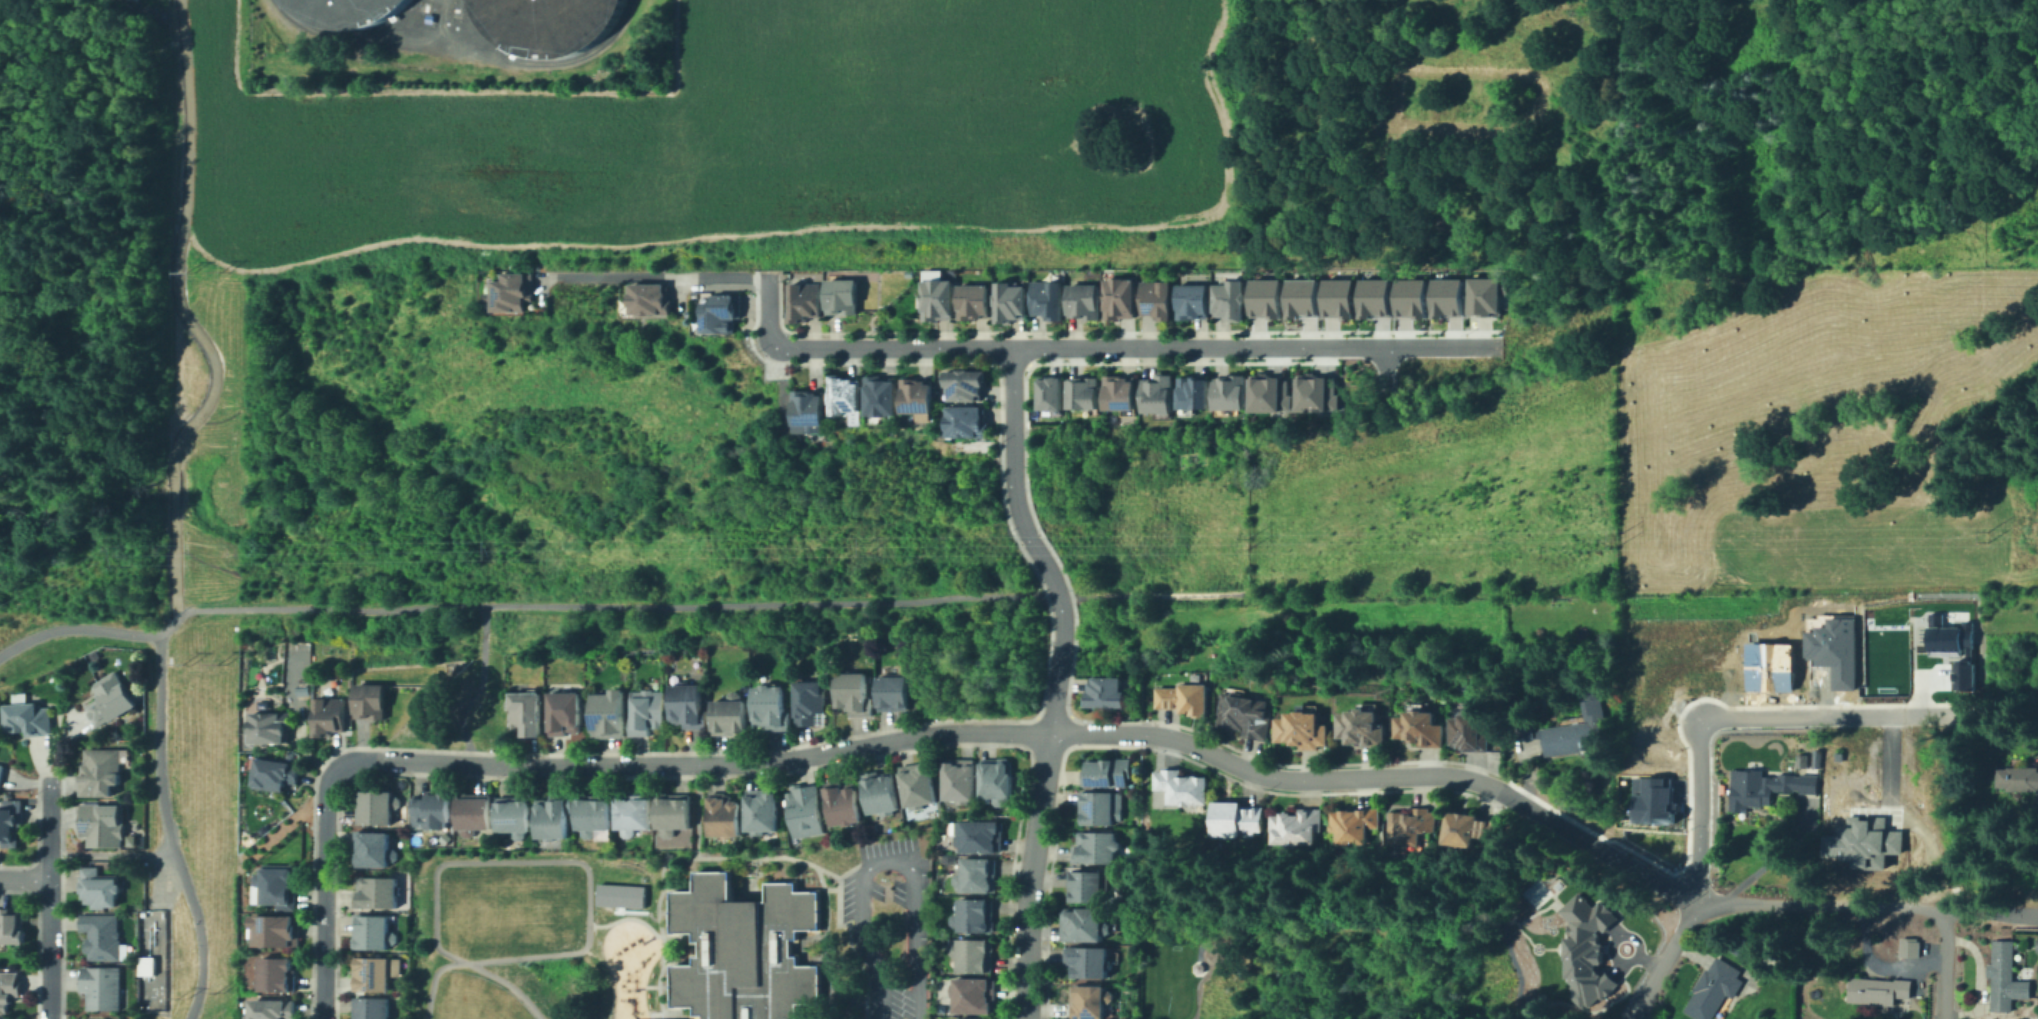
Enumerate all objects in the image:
building: (139, 0)
building: (346, 11)
storage tank: (346, 11)
building: (162, 15)
building: (429, 17)
road: (435, 23)
building: (542, 23)
storage tank: (542, 23)
road: (162, 43)
road: (460, 53)
crop: (746, 134)
road: (113, 243)
building: (909, 274)
road: (656, 276)
building: (513, 291)
building: (841, 296)
building: (1049, 296)
building: (1485, 296)
building: (653, 297)
building: (695, 297)
building: (1161, 297)
building: (1341, 297)
building: (1120, 298)
building: (1267, 298)
building: (1377, 298)
building: (1414, 298)
building: (1449, 298)
building: (937, 299)
building: (1303, 299)
building: (1230, 300)
building: (973, 301)
building: (1193, 301)
building: (804, 302)
building: (1010, 302)
building: (1083, 302)
road: (768, 310)
building: (724, 311)
road: (184, 318)
road: (1421, 349)
road: (1058, 350)
road: (1386, 367)
building: (965, 384)
building: (1084, 391)
building: (1193, 392)
building: (1267, 392)
building: (1313, 392)
building: (1120, 393)
building: (846, 394)
building: (1050, 394)
building: (1158, 394)
building: (1228, 394)
building: (879, 396)
building: (916, 396)
building: (811, 407)
building: (966, 421)
road: (127, 428)
park: (575, 467)
park: (1455, 469)
park: (1142, 524)
road: (1157, 591)
road: (1057, 595)
road: (606, 603)
road: (24, 616)
road: (76, 626)
road: (167, 626)
park: (83, 636)
building: (1951, 647)
building: (1833, 648)
building: (93, 654)
building: (1768, 664)
road: (1056, 680)
road: (476, 685)
building: (1587, 687)
building: (302, 691)
building: (896, 692)
building: (1106, 692)
road: (161, 694)
building: (857, 694)
building: (113, 698)
building: (1187, 699)
building: (811, 700)
building: (371, 701)
building: (690, 704)
building: (772, 708)
building: (1591, 708)
building: (649, 712)
building: (566, 713)
building: (1245, 713)
building: (528, 714)
building: (612, 714)
building: (732, 714)
road: (1831, 714)
building: (329, 716)
building: (30, 718)
building: (268, 726)
building: (1361, 726)
building: (1421, 728)
building: (1303, 729)
building: (1469, 731)
road: (926, 733)
building: (1565, 738)
building: (1525, 739)
building: (289, 755)
building: (1836, 756)
building: (1815, 757)
building: (1800, 760)
building: (1109, 772)
building: (2, 773)
building: (103, 773)
building: (275, 774)
building: (996, 778)
building: (2017, 779)
building: (958, 780)
building: (918, 784)
building: (1183, 786)
building: (1766, 789)
building: (879, 793)
building: (1649, 799)
building: (841, 804)
building: (375, 807)
building: (1101, 809)
building: (430, 810)
road: (696, 810)
building: (805, 810)
building: (761, 811)
building: (470, 812)
building: (673, 812)
building: (591, 813)
building: (632, 813)
road: (1694, 813)
building: (512, 815)
building: (550, 816)
road: (1908, 816)
building: (723, 817)
building: (12, 821)
park: (192, 821)
building: (1239, 821)
building: (104, 824)
building: (1356, 826)
building: (1414, 826)
building: (870, 827)
building: (1298, 828)
building: (1468, 828)
building: (979, 836)
building: (1862, 839)
building: (618, 844)
building: (1098, 847)
building: (372, 850)
road: (112, 852)
road: (1603, 853)
road: (739, 856)
building: (948, 858)
road: (889, 860)
road: (559, 862)
road: (1770, 862)
road: (24, 876)
building: (977, 876)
road: (160, 880)
road: (751, 884)
building: (280, 886)
road: (189, 887)
road: (322, 887)
building: (1091, 887)
road: (822, 888)
building: (101, 889)
road: (666, 889)
building: (375, 893)
building: (618, 894)
road: (48, 897)
building: (747, 897)
park: (545, 902)
park: (473, 905)
road: (1869, 908)
road: (636, 911)
road: (663, 911)
building: (973, 915)
parking lot: (890, 924)
building: (1083, 926)
building: (14, 927)
building: (277, 931)
road: (848, 931)
building: (372, 934)
road: (663, 935)
building: (104, 937)
building: (1741, 944)
building: (2037, 944)
road: (801, 946)
building: (1906, 946)
road: (696, 948)
building: (744, 949)
road: (796, 949)
building: (1589, 953)
building: (975, 955)
building: (1088, 963)
road: (1665, 963)
building: (146, 965)
road: (472, 966)
road: (1941, 966)
building: (2005, 974)
building: (277, 975)
building: (371, 976)
building: (391, 985)
road: (657, 985)
building: (104, 988)
building: (10, 990)
building: (1715, 990)
building: (1880, 991)
building: (975, 997)
park: (475, 998)
building: (1091, 1002)
building: (370, 1009)
building: (275, 1010)
road: (654, 1014)
park: (653, 1015)
building: (92, 1018)
building: (971, 1018)

